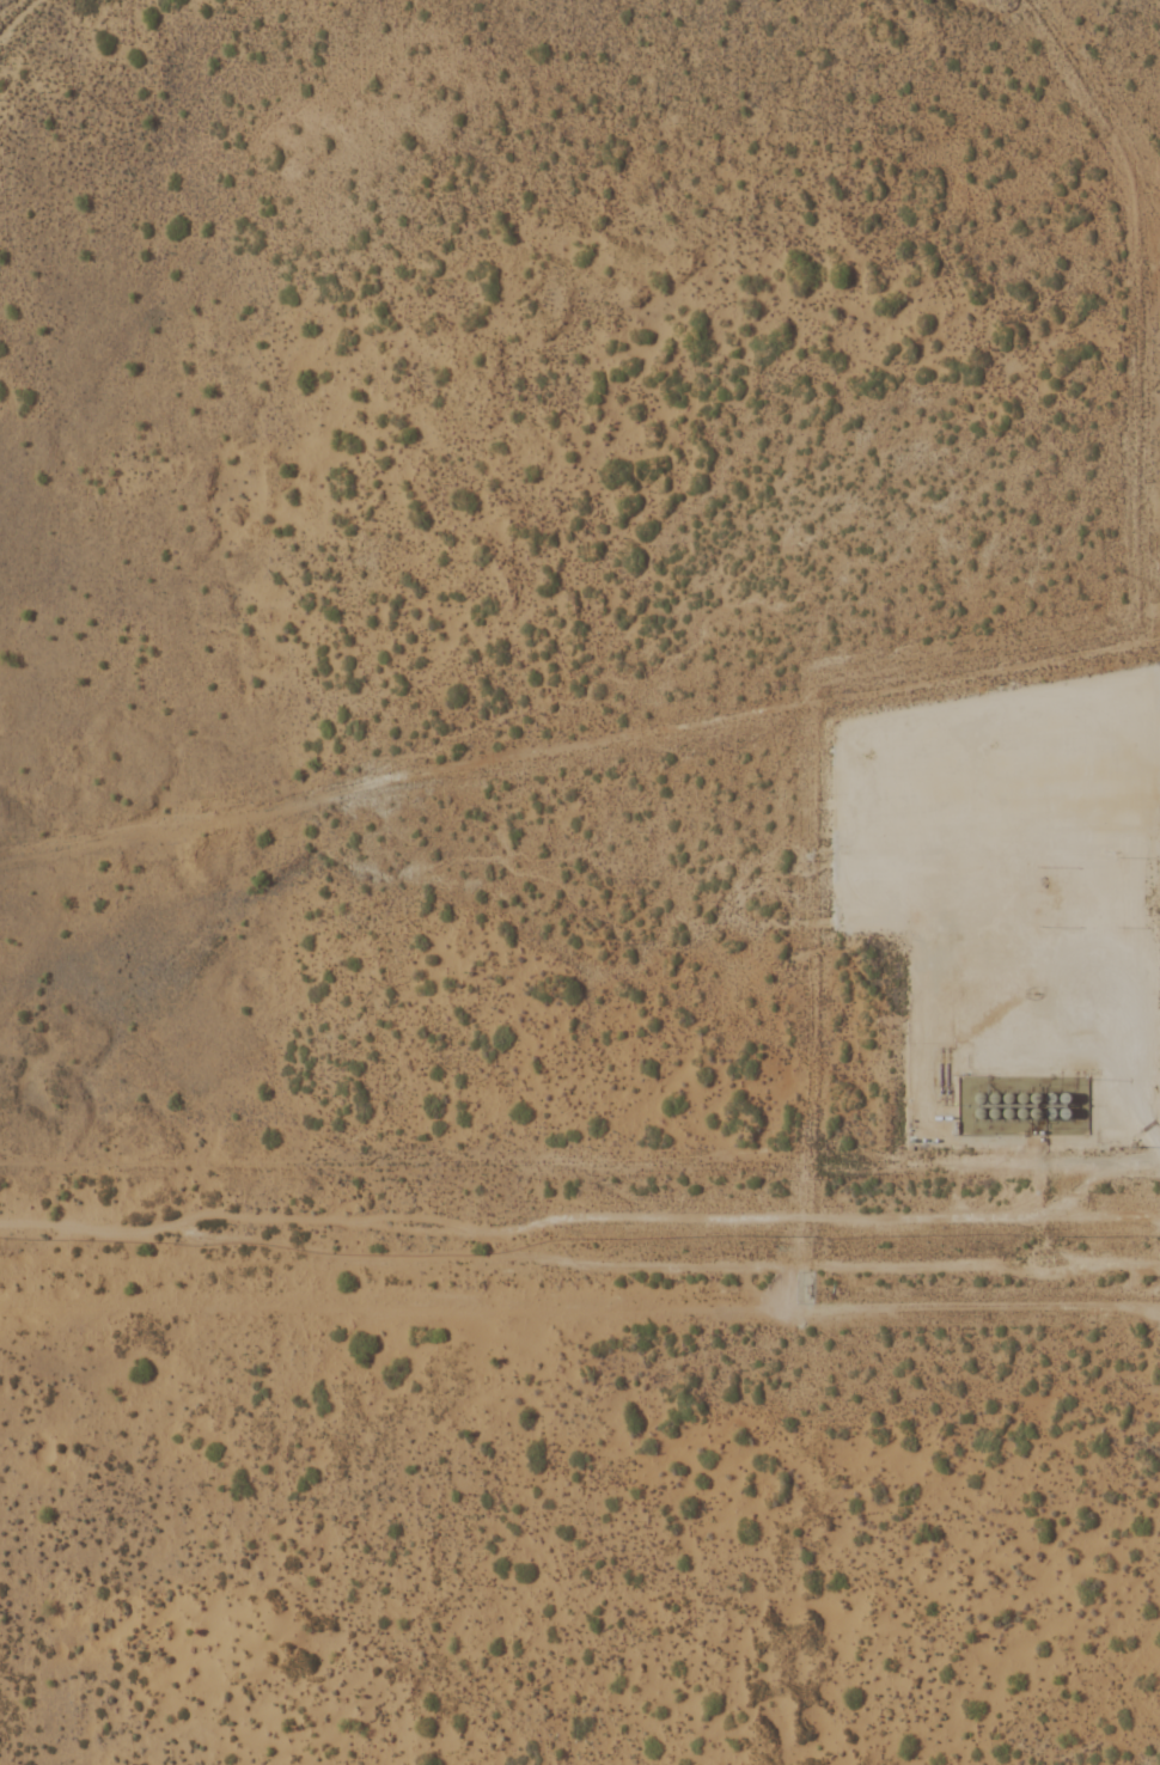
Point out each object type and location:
road: (1008, 916)

